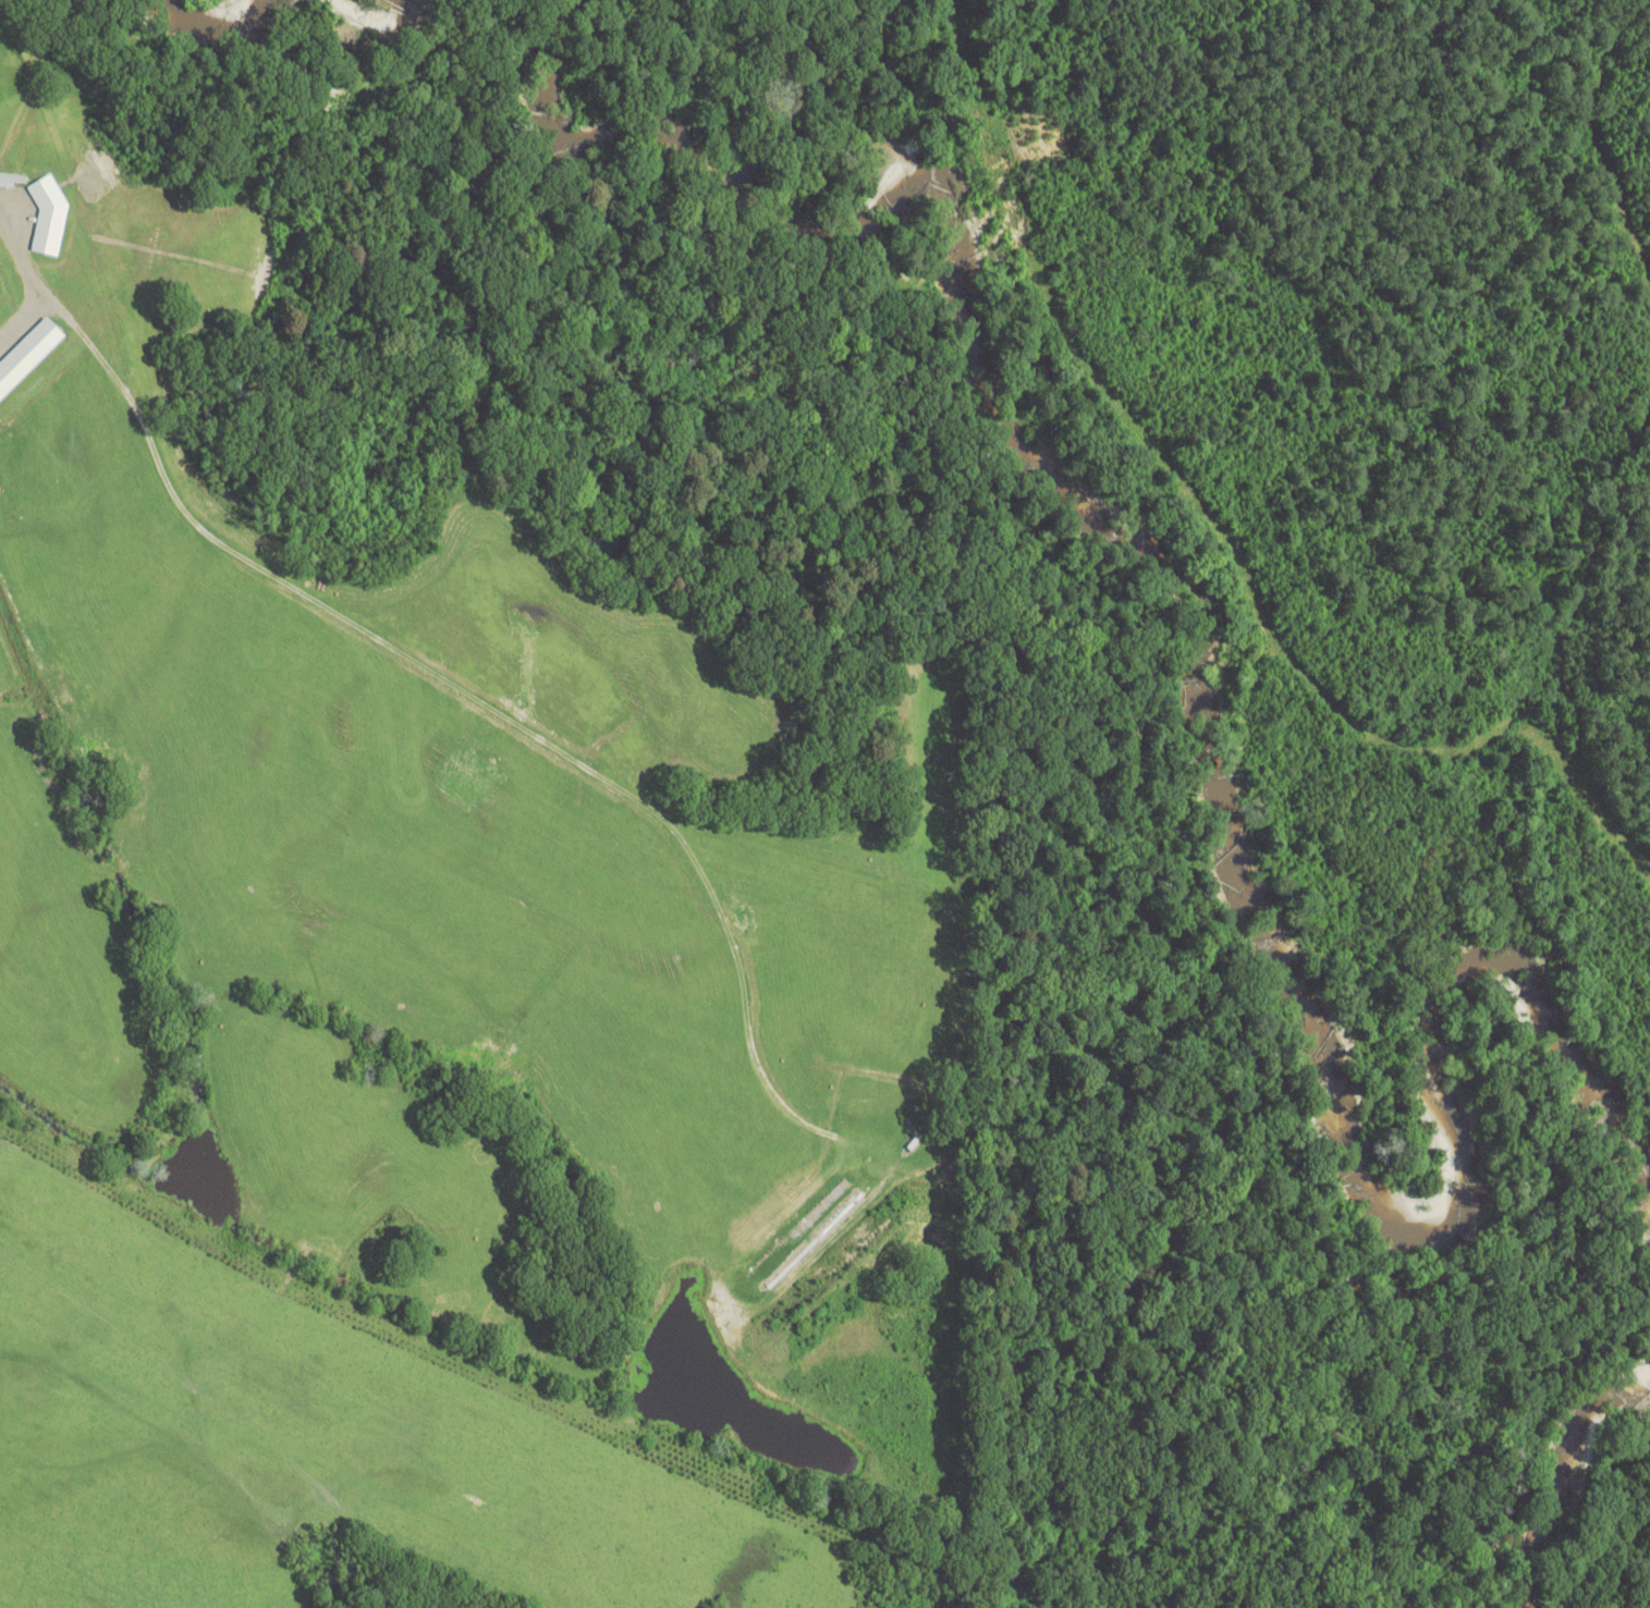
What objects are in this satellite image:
river: (210, 28)
road: (430, 673)
river: (1199, 714)
building: (1231, 862)
river: (1562, 1474)

